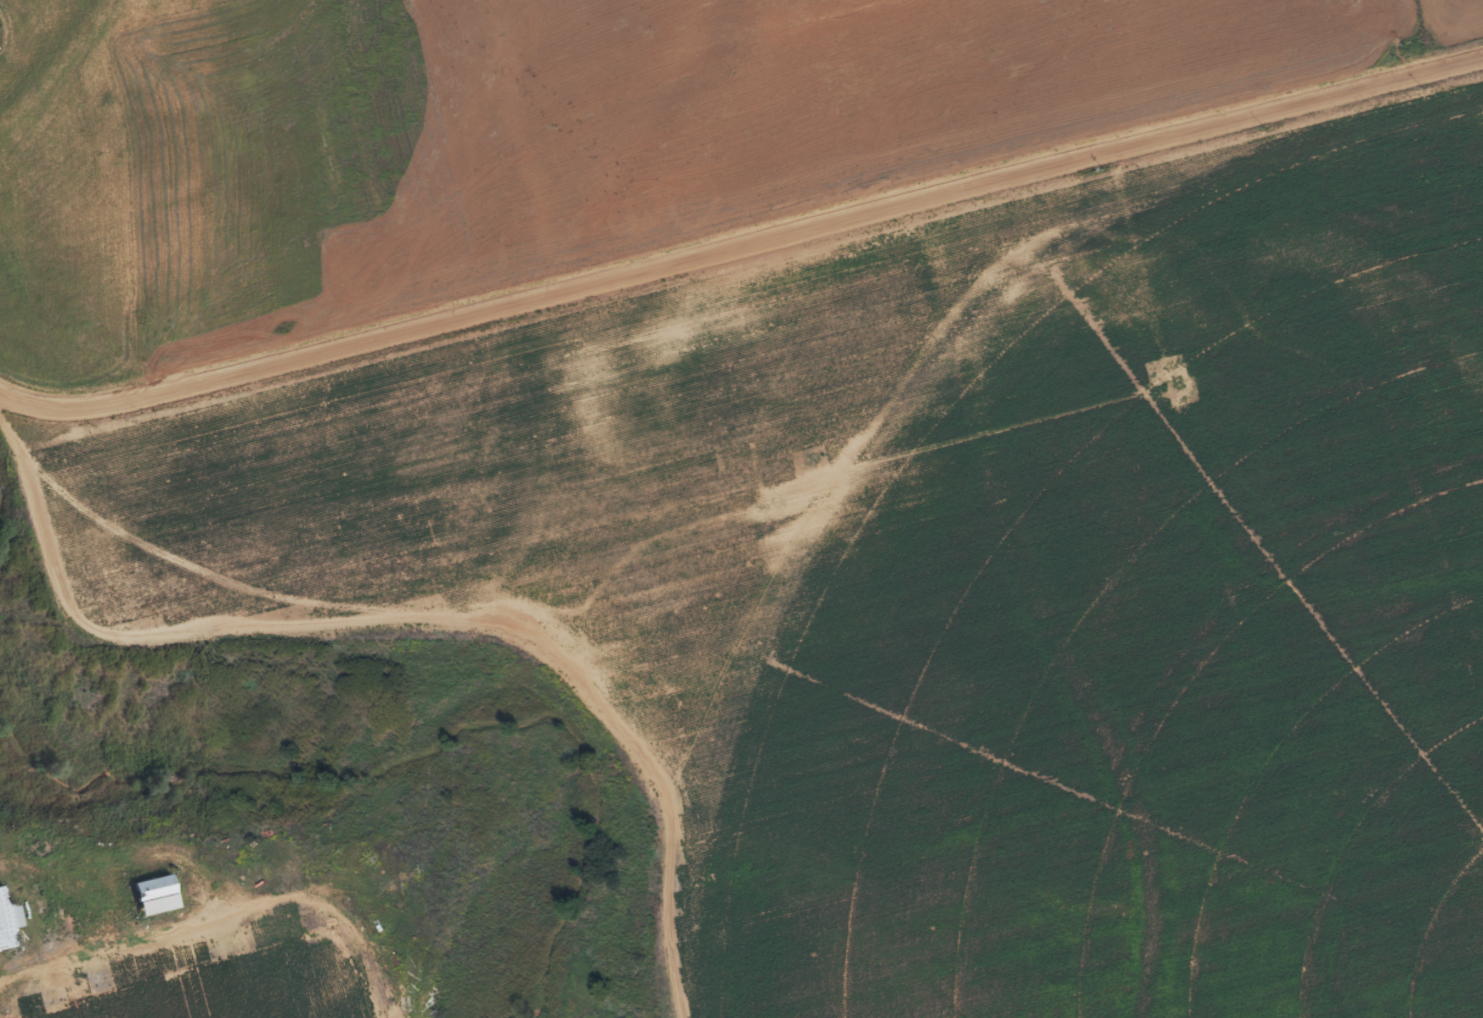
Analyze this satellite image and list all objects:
road: (741, 242)
road: (408, 616)
building: (150, 895)
building: (9, 911)

